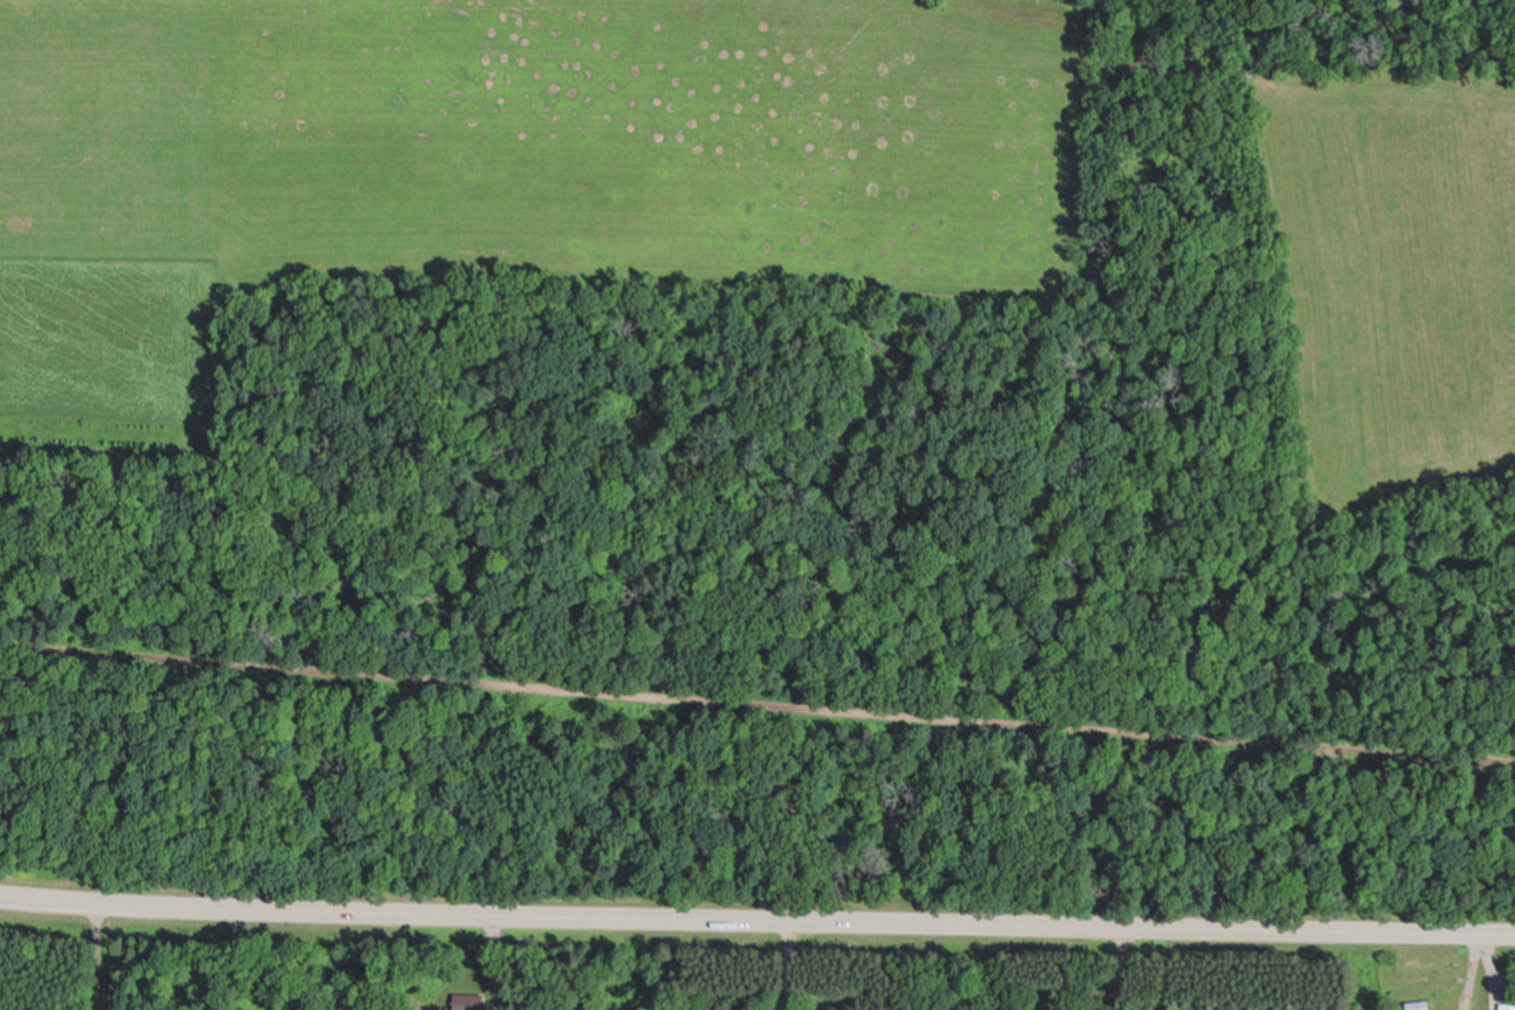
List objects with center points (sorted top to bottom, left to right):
road: (757, 709)
road: (757, 923)
road: (788, 967)
road: (1489, 972)
building: (469, 1003)
building: (1421, 1006)
building: (1507, 1007)

